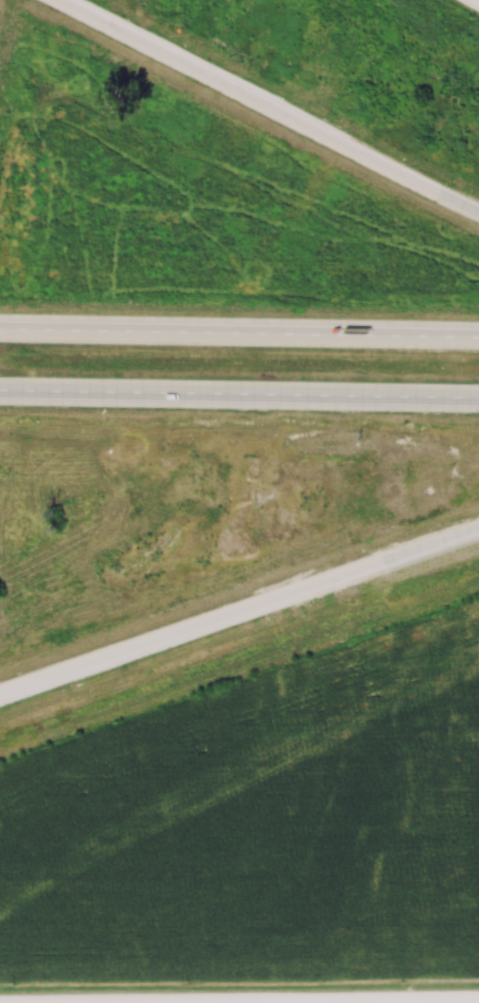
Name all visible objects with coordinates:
road: (269, 105)
road: (239, 332)
road: (239, 393)
road: (239, 611)
road: (239, 1001)
road: (172, 1002)

